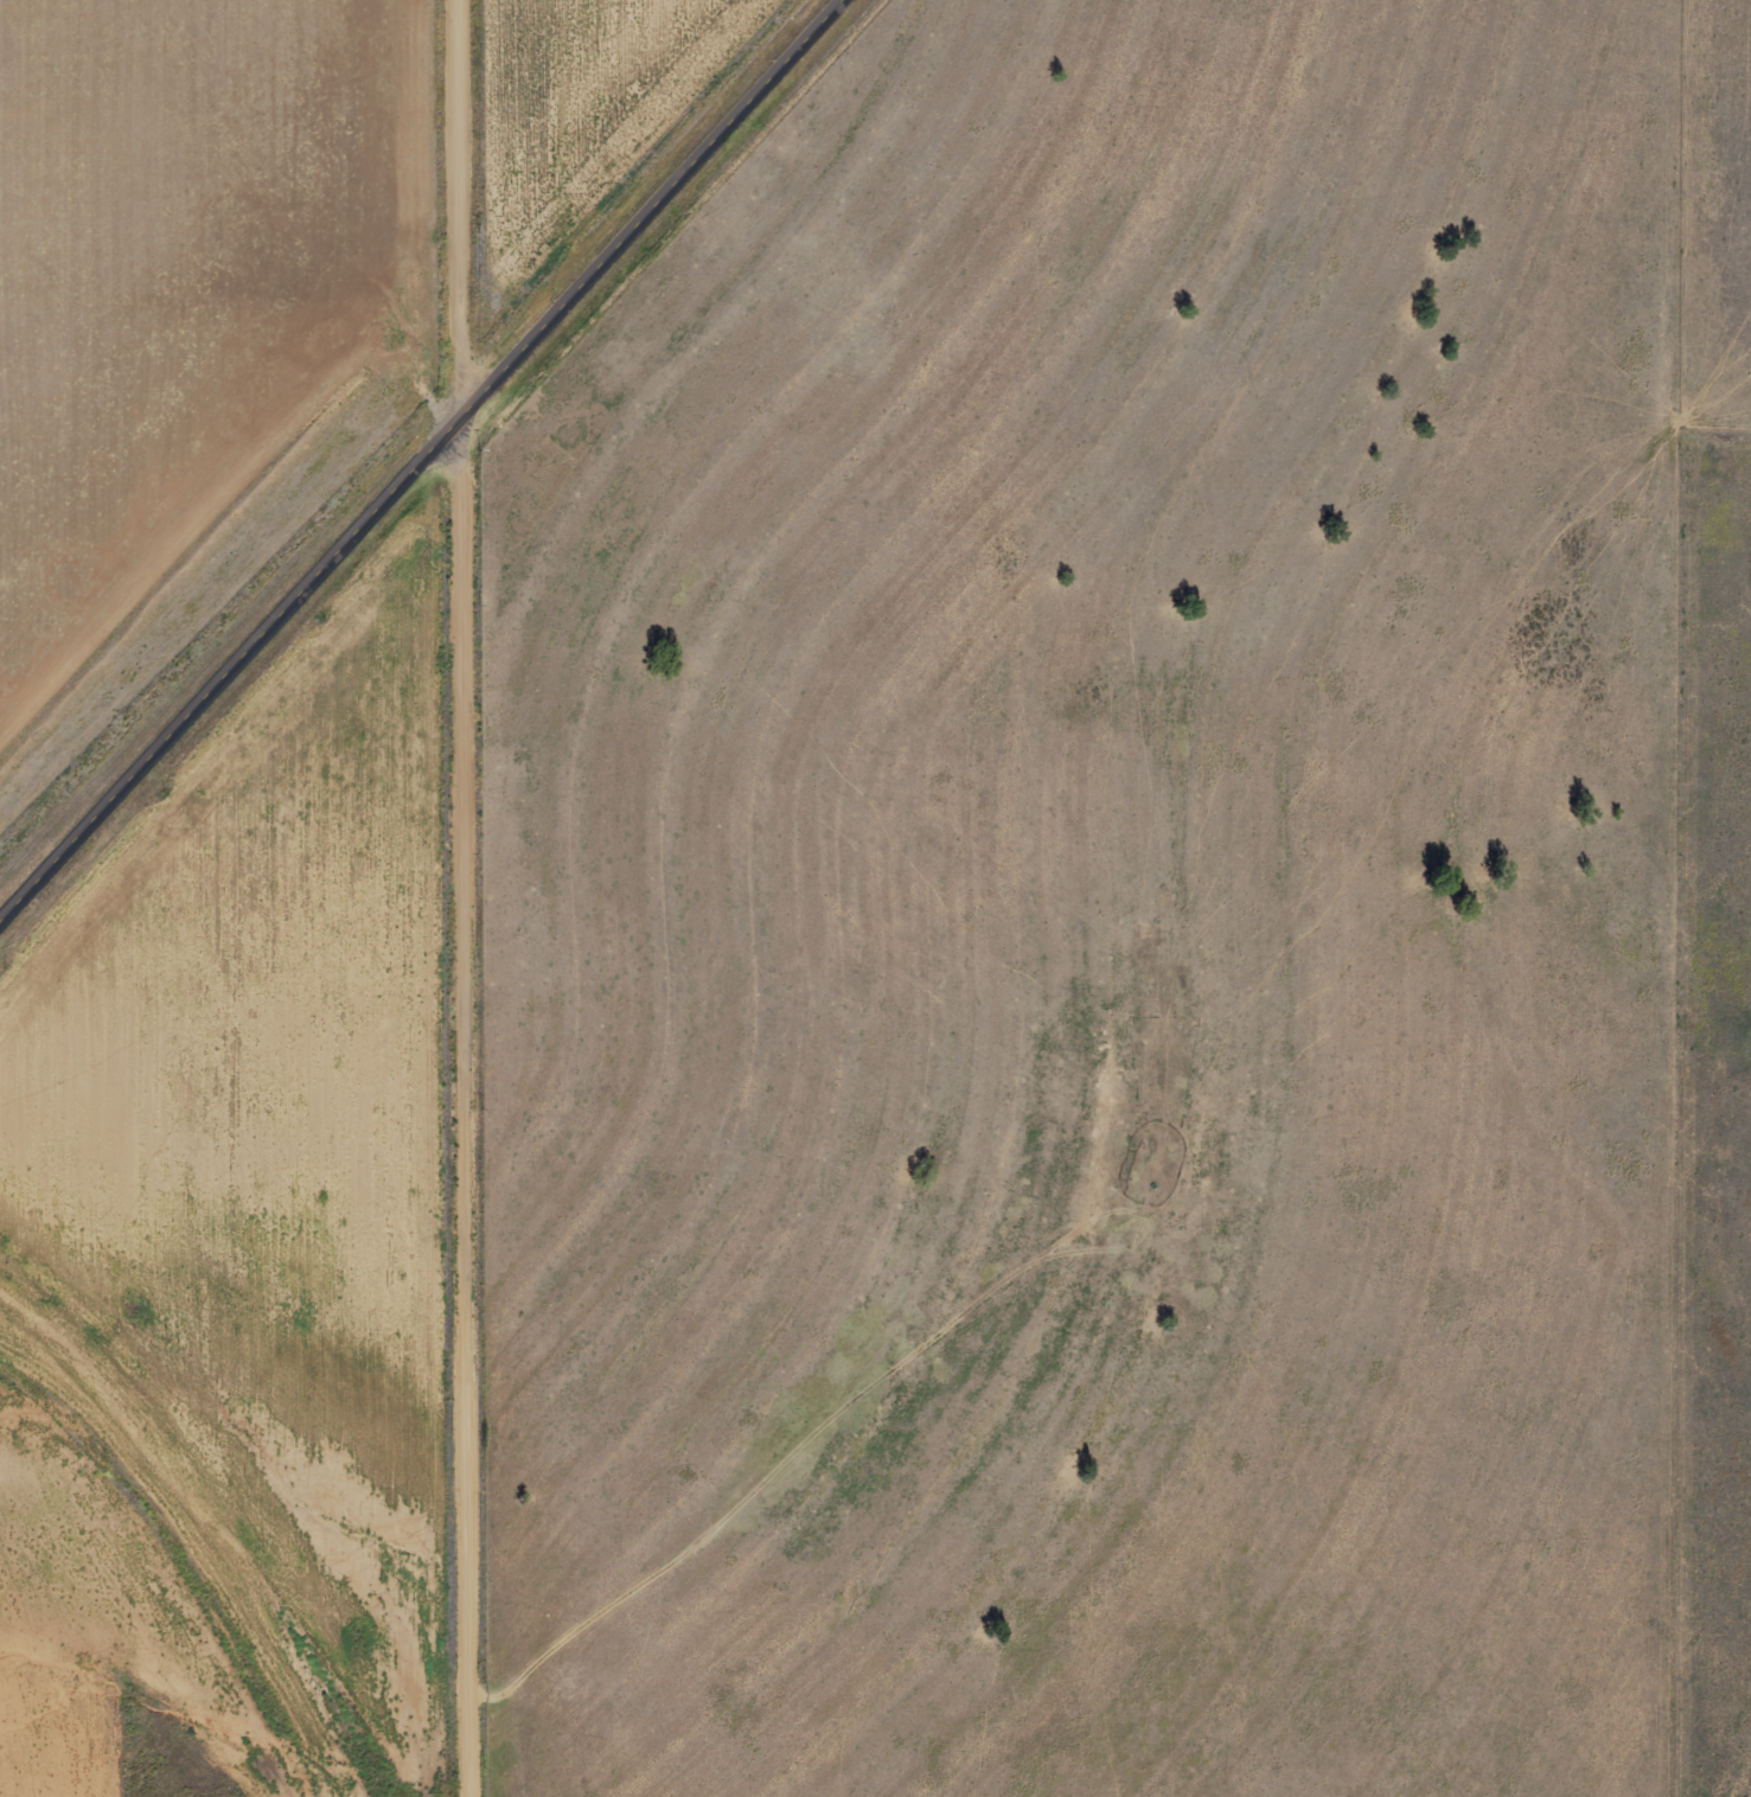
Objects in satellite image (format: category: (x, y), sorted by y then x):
railway: (382, 413)
road: (428, 463)
road: (467, 897)

